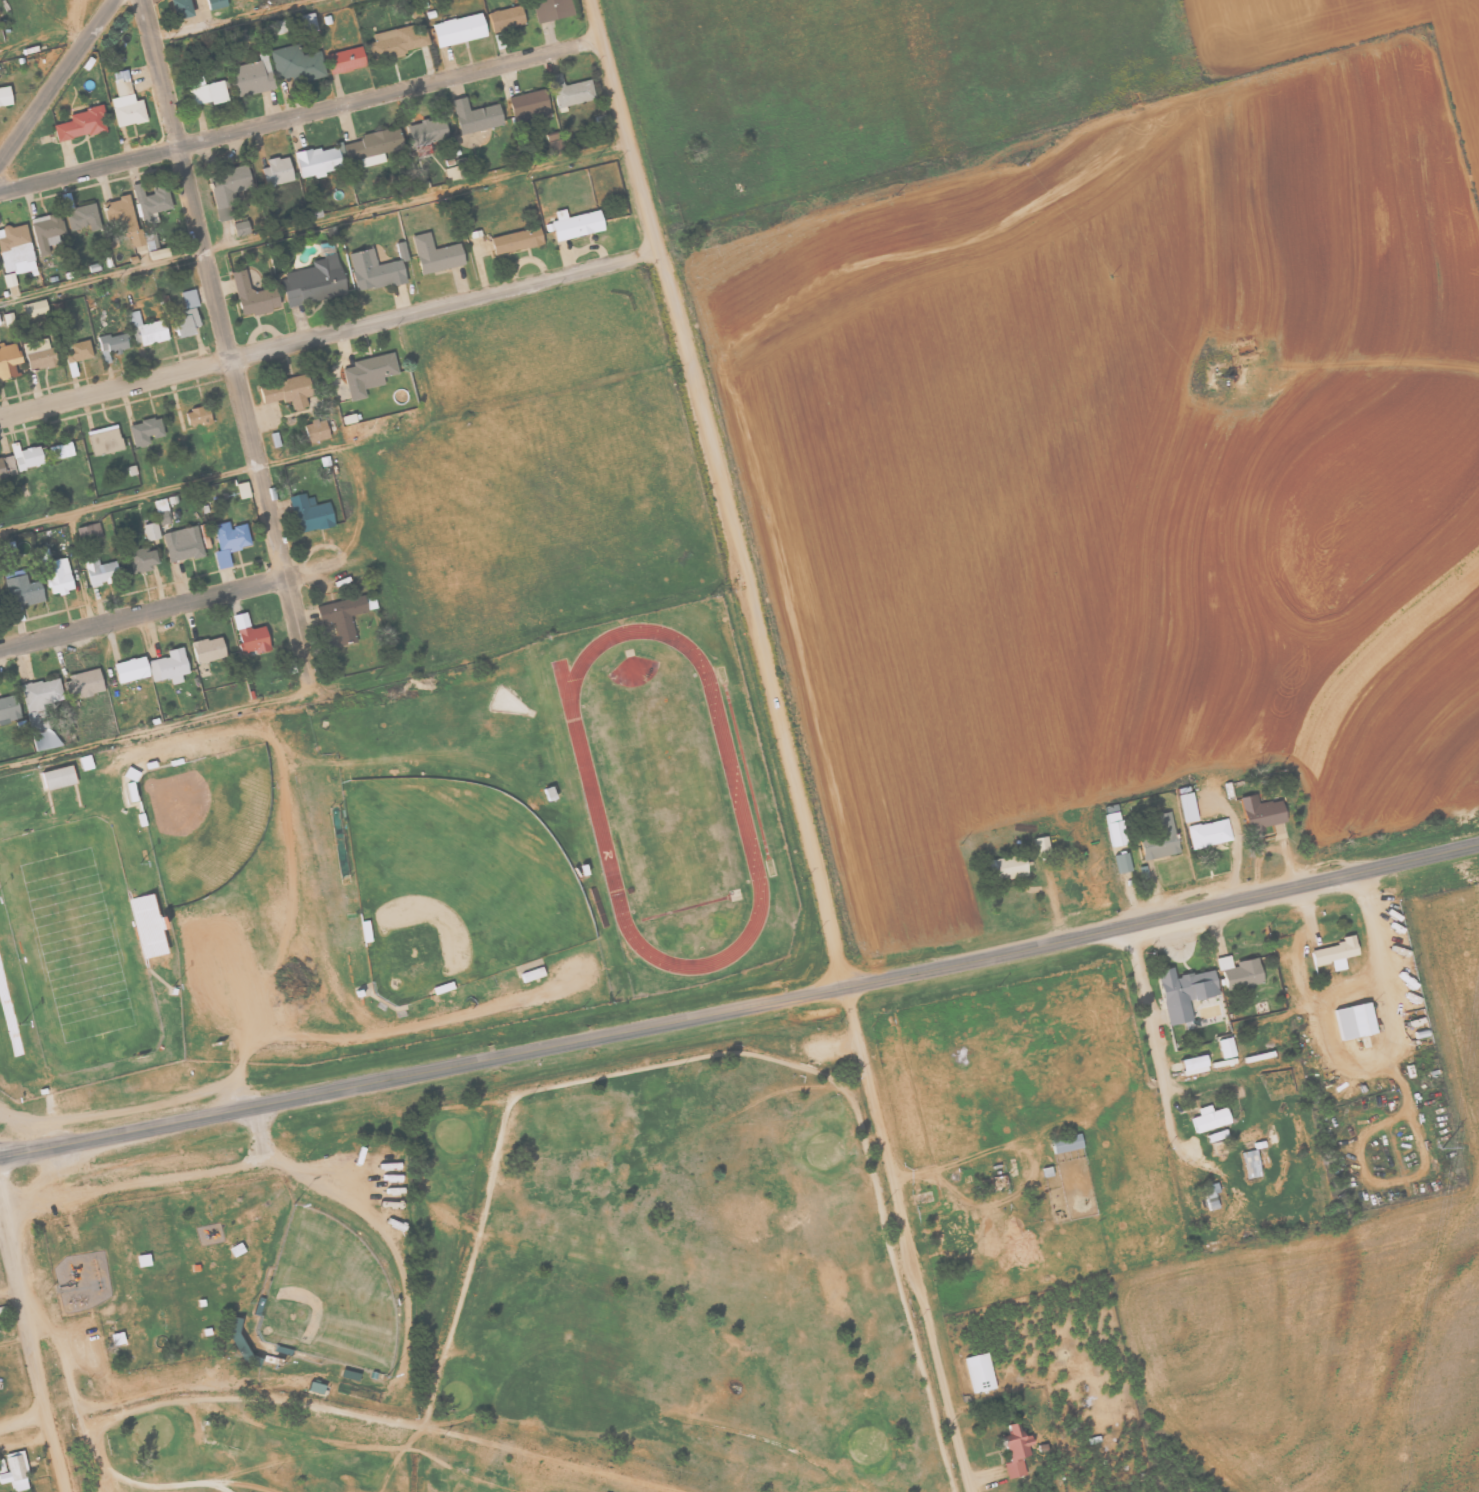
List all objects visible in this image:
building: (215, 3)
building: (179, 8)
building: (551, 9)
building: (506, 18)
road: (228, 19)
building: (308, 22)
building: (457, 29)
road: (45, 40)
building: (399, 40)
building: (345, 60)
building: (297, 63)
building: (253, 76)
road: (55, 77)
building: (570, 91)
building: (208, 93)
building: (4, 95)
building: (125, 102)
building: (529, 104)
road: (300, 115)
building: (474, 116)
building: (81, 124)
building: (426, 131)
building: (372, 146)
building: (316, 161)
building: (276, 171)
building: (226, 190)
building: (151, 202)
building: (119, 215)
building: (82, 217)
road: (313, 222)
building: (574, 224)
building: (240, 228)
building: (46, 231)
building: (515, 240)
building: (148, 244)
building: (15, 249)
building: (401, 251)
building: (435, 254)
building: (372, 270)
building: (9, 279)
building: (313, 281)
building: (251, 295)
building: (188, 298)
building: (33, 308)
building: (9, 319)
building: (183, 322)
building: (144, 330)
road: (222, 332)
road: (329, 338)
road: (1369, 344)
building: (111, 345)
building: (76, 353)
building: (39, 354)
building: (9, 360)
building: (367, 373)
building: (287, 390)
building: (196, 416)
building: (314, 430)
building: (144, 431)
building: (104, 440)
building: (60, 450)
building: (25, 456)
building: (6, 465)
road: (231, 473)
building: (242, 490)
road: (719, 492)
building: (161, 511)
building: (308, 513)
building: (150, 531)
building: (88, 532)
building: (229, 541)
building: (182, 544)
building: (43, 555)
building: (141, 559)
building: (56, 576)
building: (21, 589)
road: (170, 608)
building: (341, 617)
building: (248, 635)
building: (207, 649)
building: (168, 666)
building: (129, 669)
building: (81, 684)
building: (40, 693)
building: (8, 708)
road: (165, 729)
building: (40, 734)
building: (85, 762)
building: (57, 778)
track: (737, 796)
building: (1186, 806)
building: (1259, 812)
park: (206, 818)
building: (1114, 825)
building: (1208, 833)
building: (1158, 838)
building: (1040, 846)
building: (1121, 862)
building: (1006, 867)
park: (456, 884)
building: (146, 926)
park: (73, 939)
stadium: (76, 943)
building: (1334, 953)
building: (1238, 972)
building: (531, 974)
building: (1183, 992)
road: (740, 1006)
building: (1353, 1020)
building: (1225, 1047)
building: (1193, 1064)
building: (1209, 1118)
building: (1216, 1135)
power tower: (1441, 1140)
building: (1066, 1143)
building: (1250, 1164)
building: (1211, 1195)
building: (948, 1231)
road: (910, 1238)
park: (501, 1286)
road: (8, 1292)
road: (31, 1356)
building: (979, 1372)
road: (23, 1420)
building: (1014, 1450)
building: (15, 1470)

